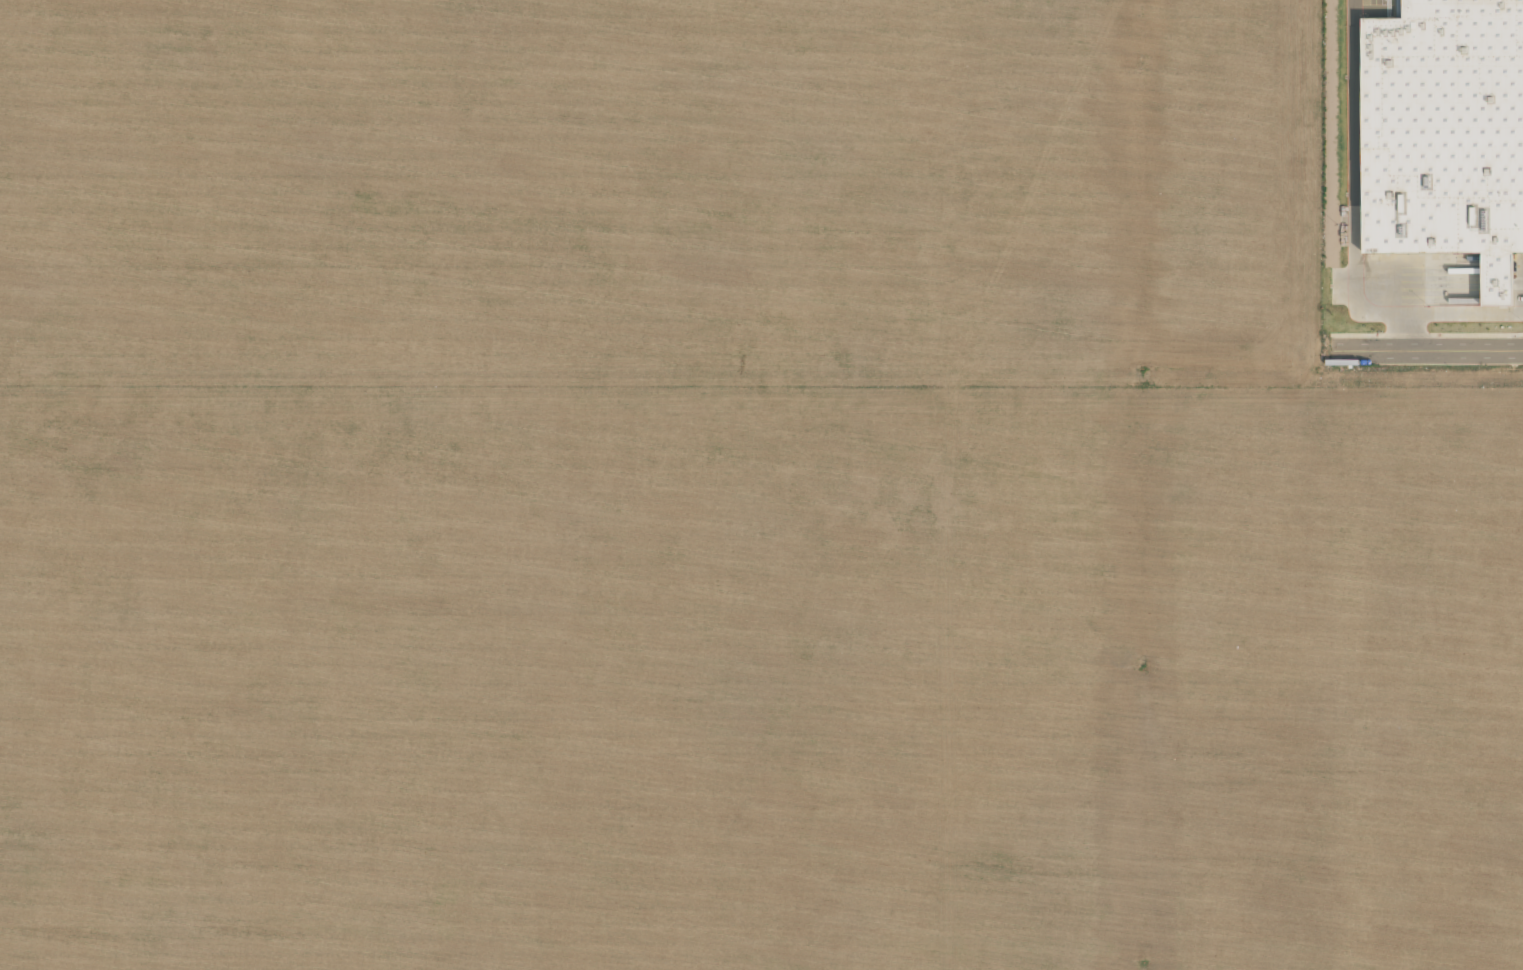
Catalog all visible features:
building: (1446, 134)
road: (1351, 179)
road: (1444, 312)
road: (1429, 347)

